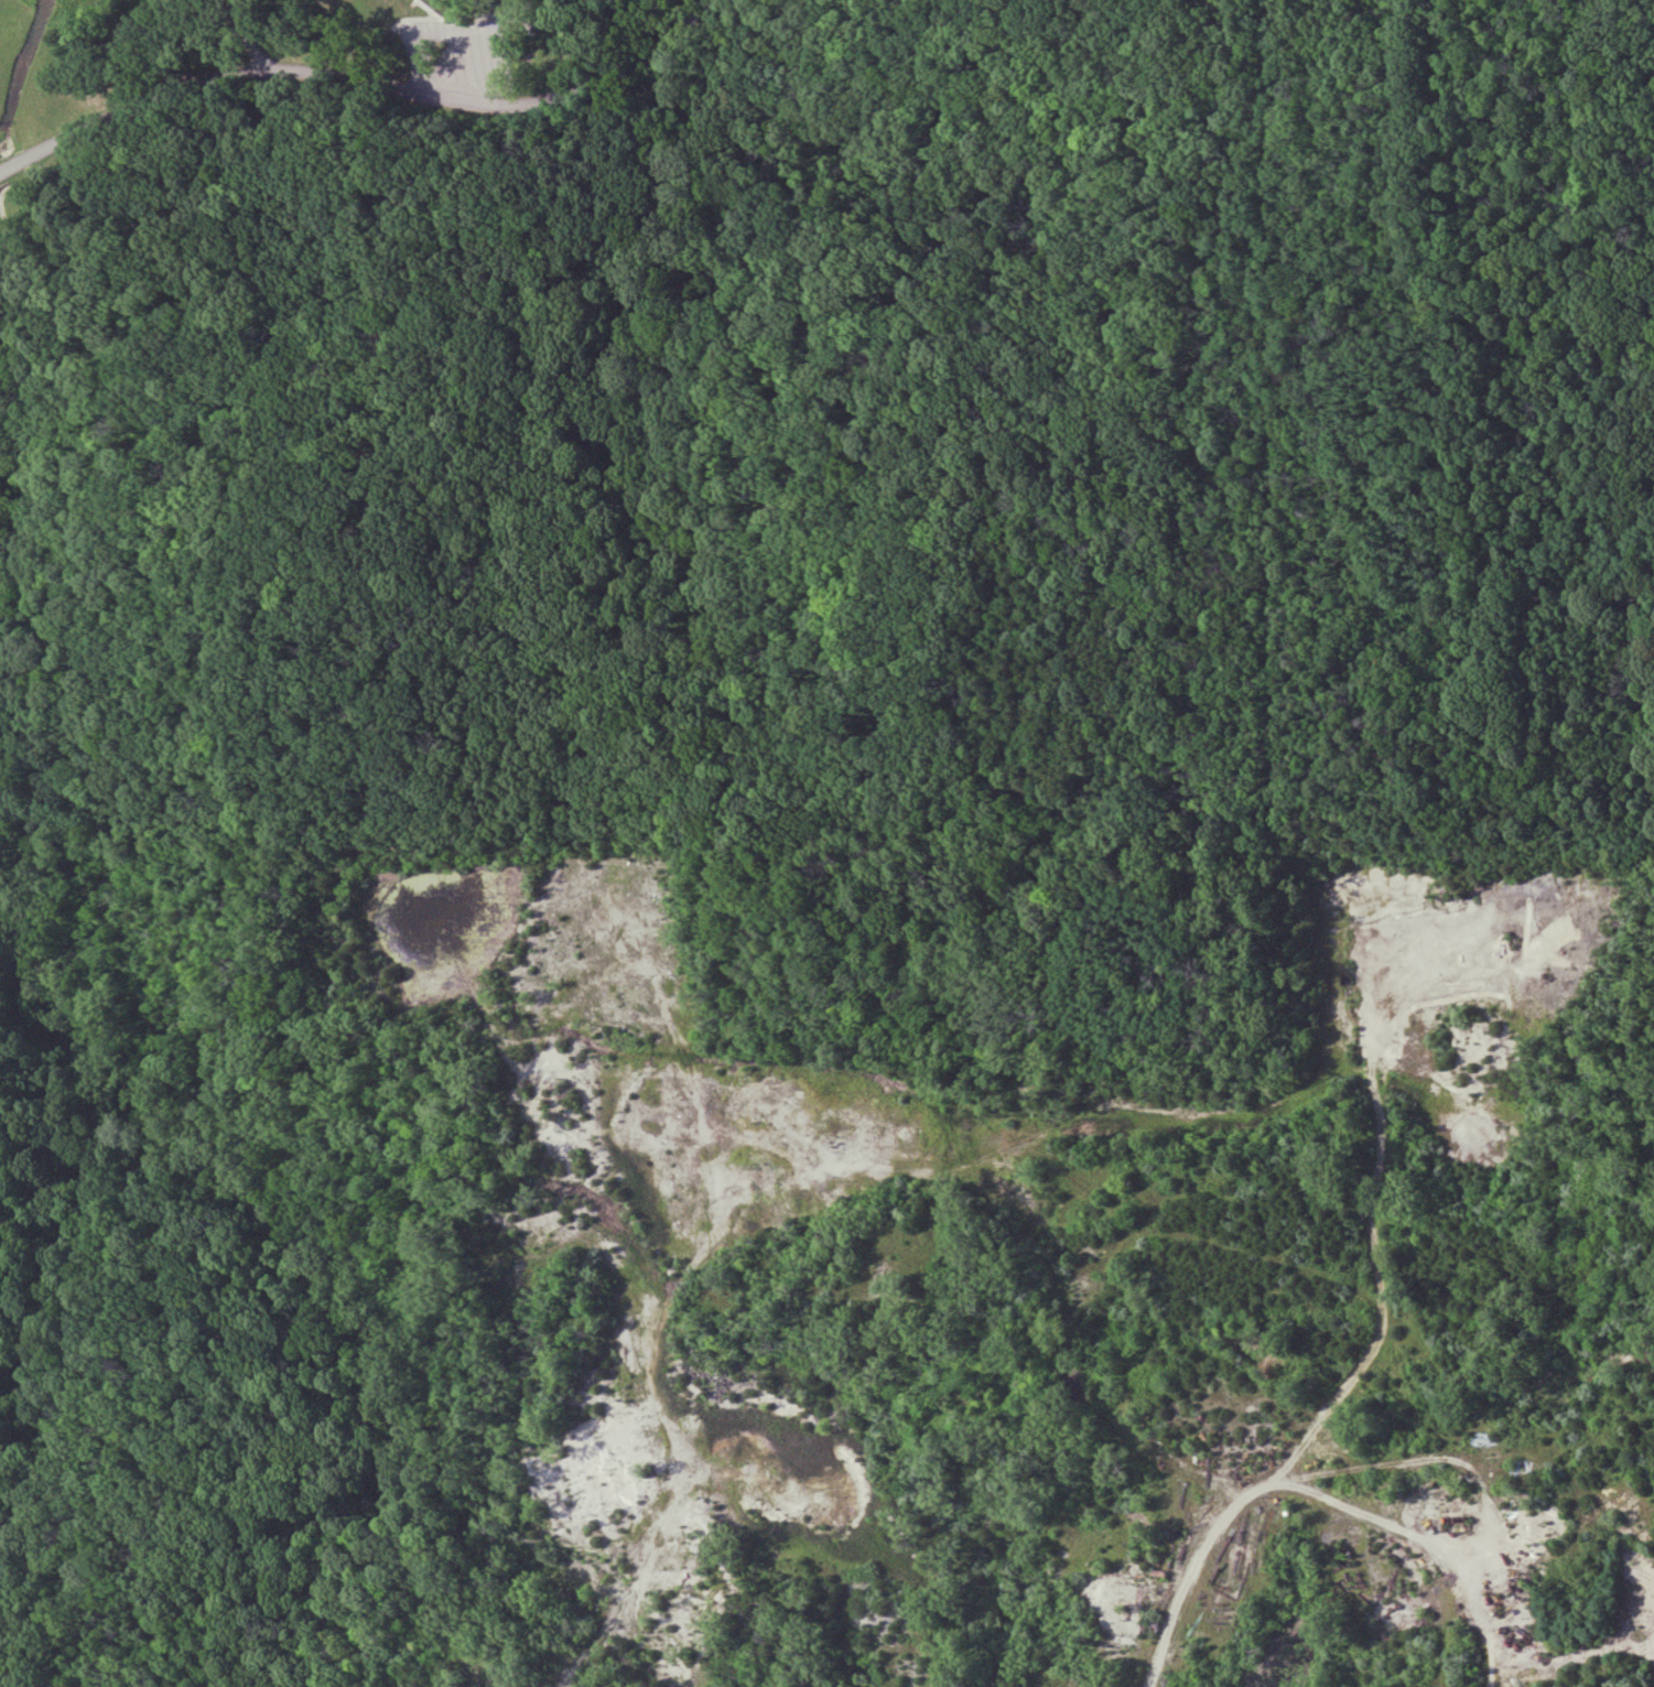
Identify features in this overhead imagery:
road: (434, 10)
road: (521, 11)
road: (531, 24)
building: (543, 26)
parking lot: (475, 58)
road: (360, 82)
road: (375, 108)
park: (739, 590)
road: (1631, 841)
building: (558, 897)
road: (661, 1424)
road: (1309, 1494)

